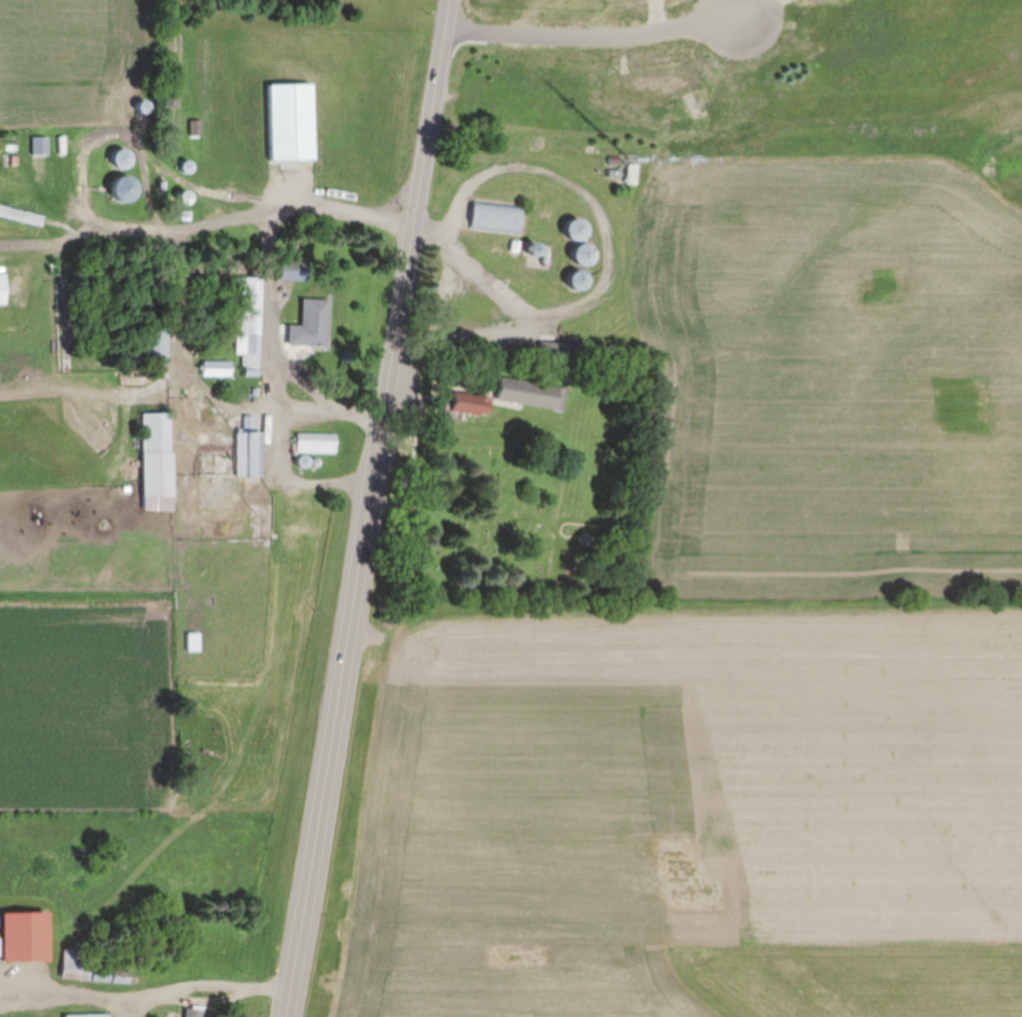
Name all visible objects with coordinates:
road: (754, 6)
road: (596, 35)
building: (292, 121)
building: (123, 158)
building: (633, 173)
road: (586, 184)
building: (125, 188)
road: (300, 202)
building: (498, 217)
road: (429, 228)
building: (579, 228)
building: (585, 254)
building: (294, 270)
building: (579, 280)
building: (3, 289)
building: (316, 319)
building: (249, 323)
road: (462, 334)
building: (157, 342)
building: (566, 349)
building: (533, 394)
building: (472, 408)
road: (292, 439)
building: (317, 443)
building: (158, 454)
building: (247, 454)
road: (371, 508)
building: (186, 651)
building: (26, 937)
building: (77, 964)
road: (147, 993)
road: (122, 1006)
building: (196, 1013)
building: (88, 1015)

